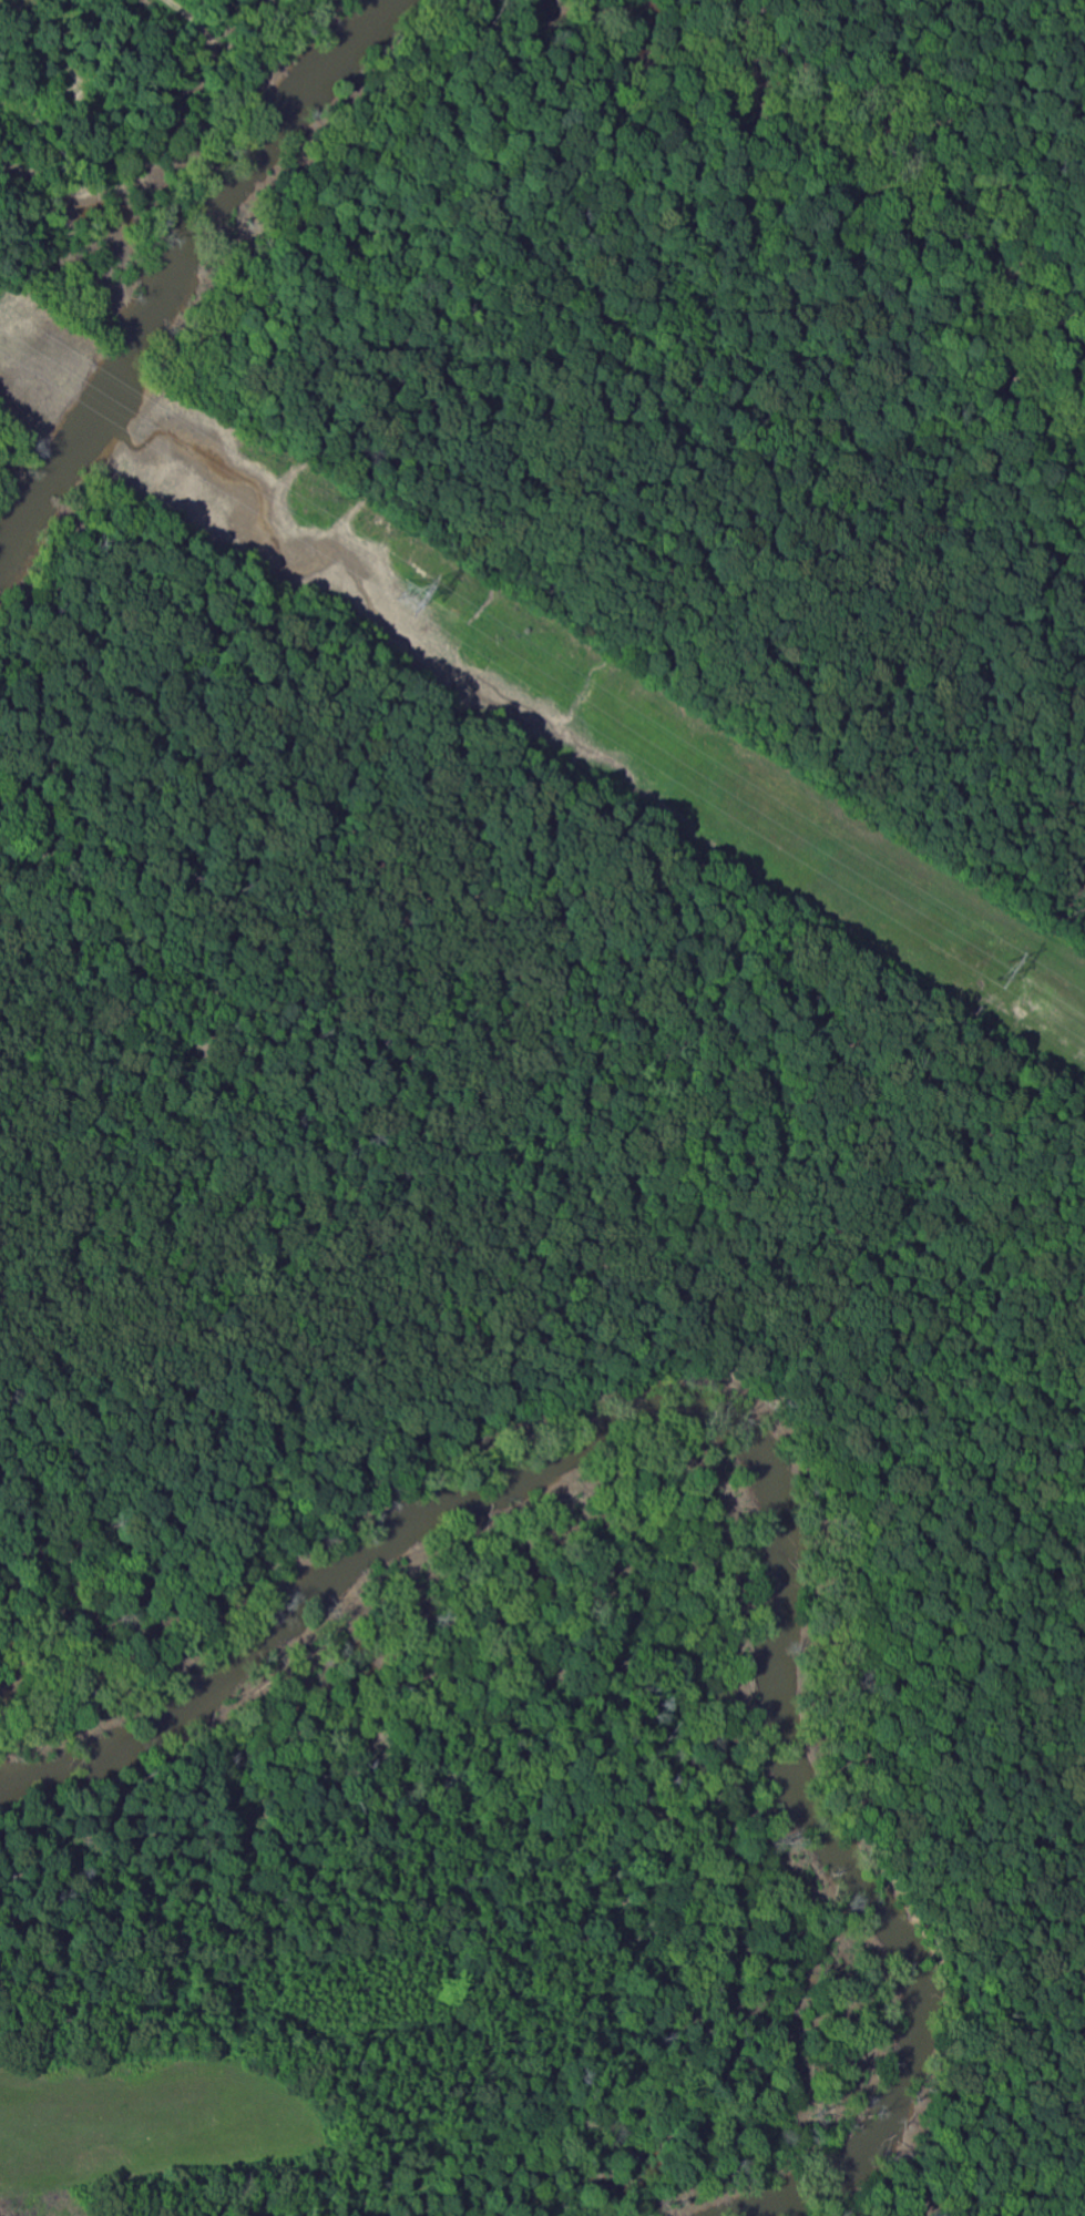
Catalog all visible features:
river: (176, 264)
power tower: (414, 598)
power tower: (1000, 971)
river: (765, 1446)

